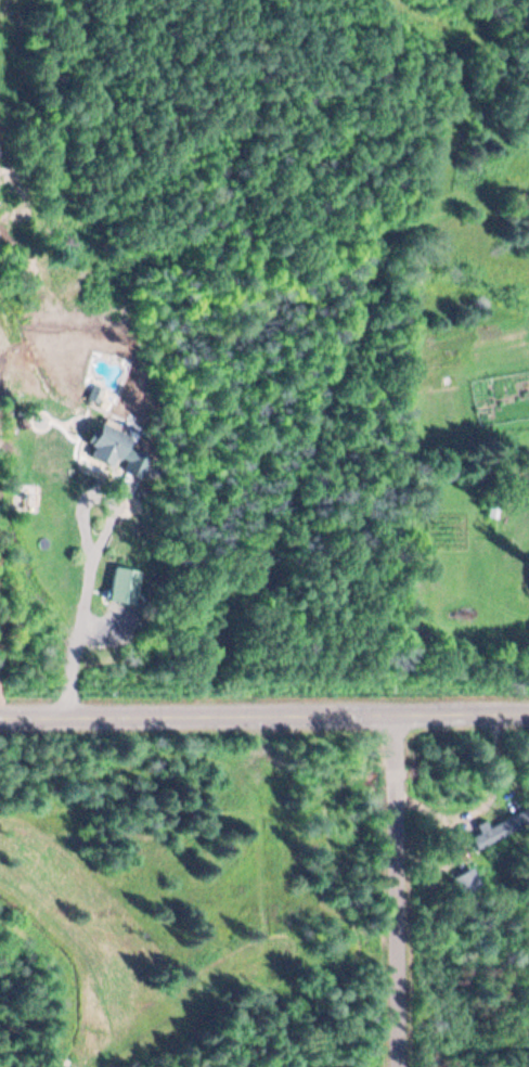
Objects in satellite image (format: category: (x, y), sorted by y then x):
building: (108, 443)
building: (122, 583)
road: (264, 711)
building: (509, 823)
building: (465, 883)
road: (392, 889)

